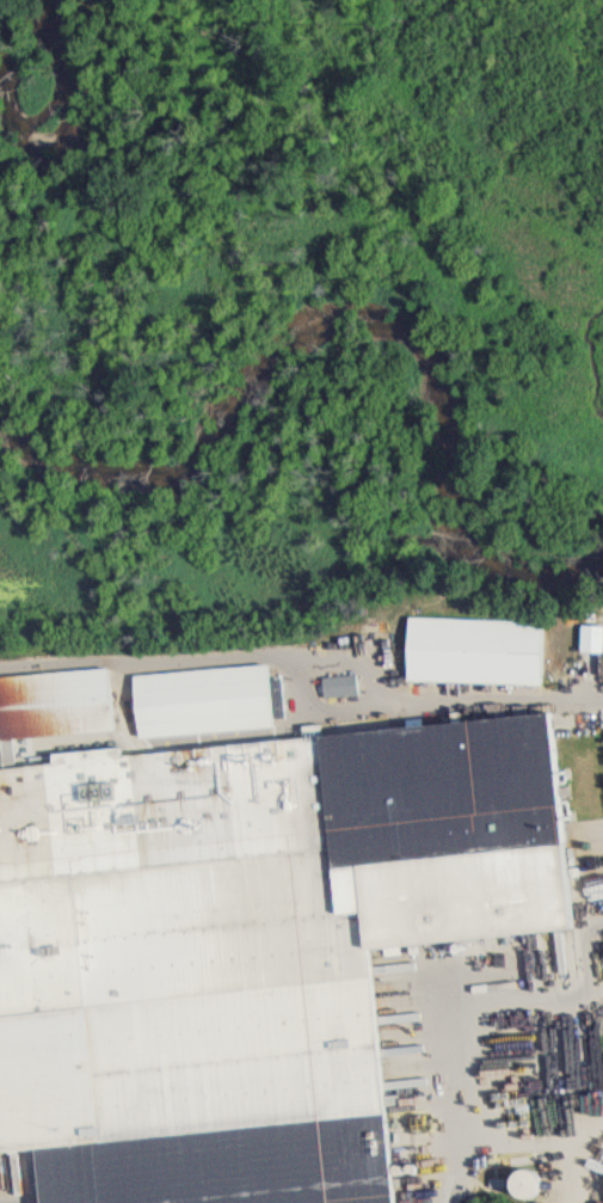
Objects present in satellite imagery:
river: (441, 466)
road: (307, 657)
building: (468, 658)
building: (334, 693)
building: (196, 708)
building: (239, 950)
road: (555, 1006)
road: (467, 1115)

